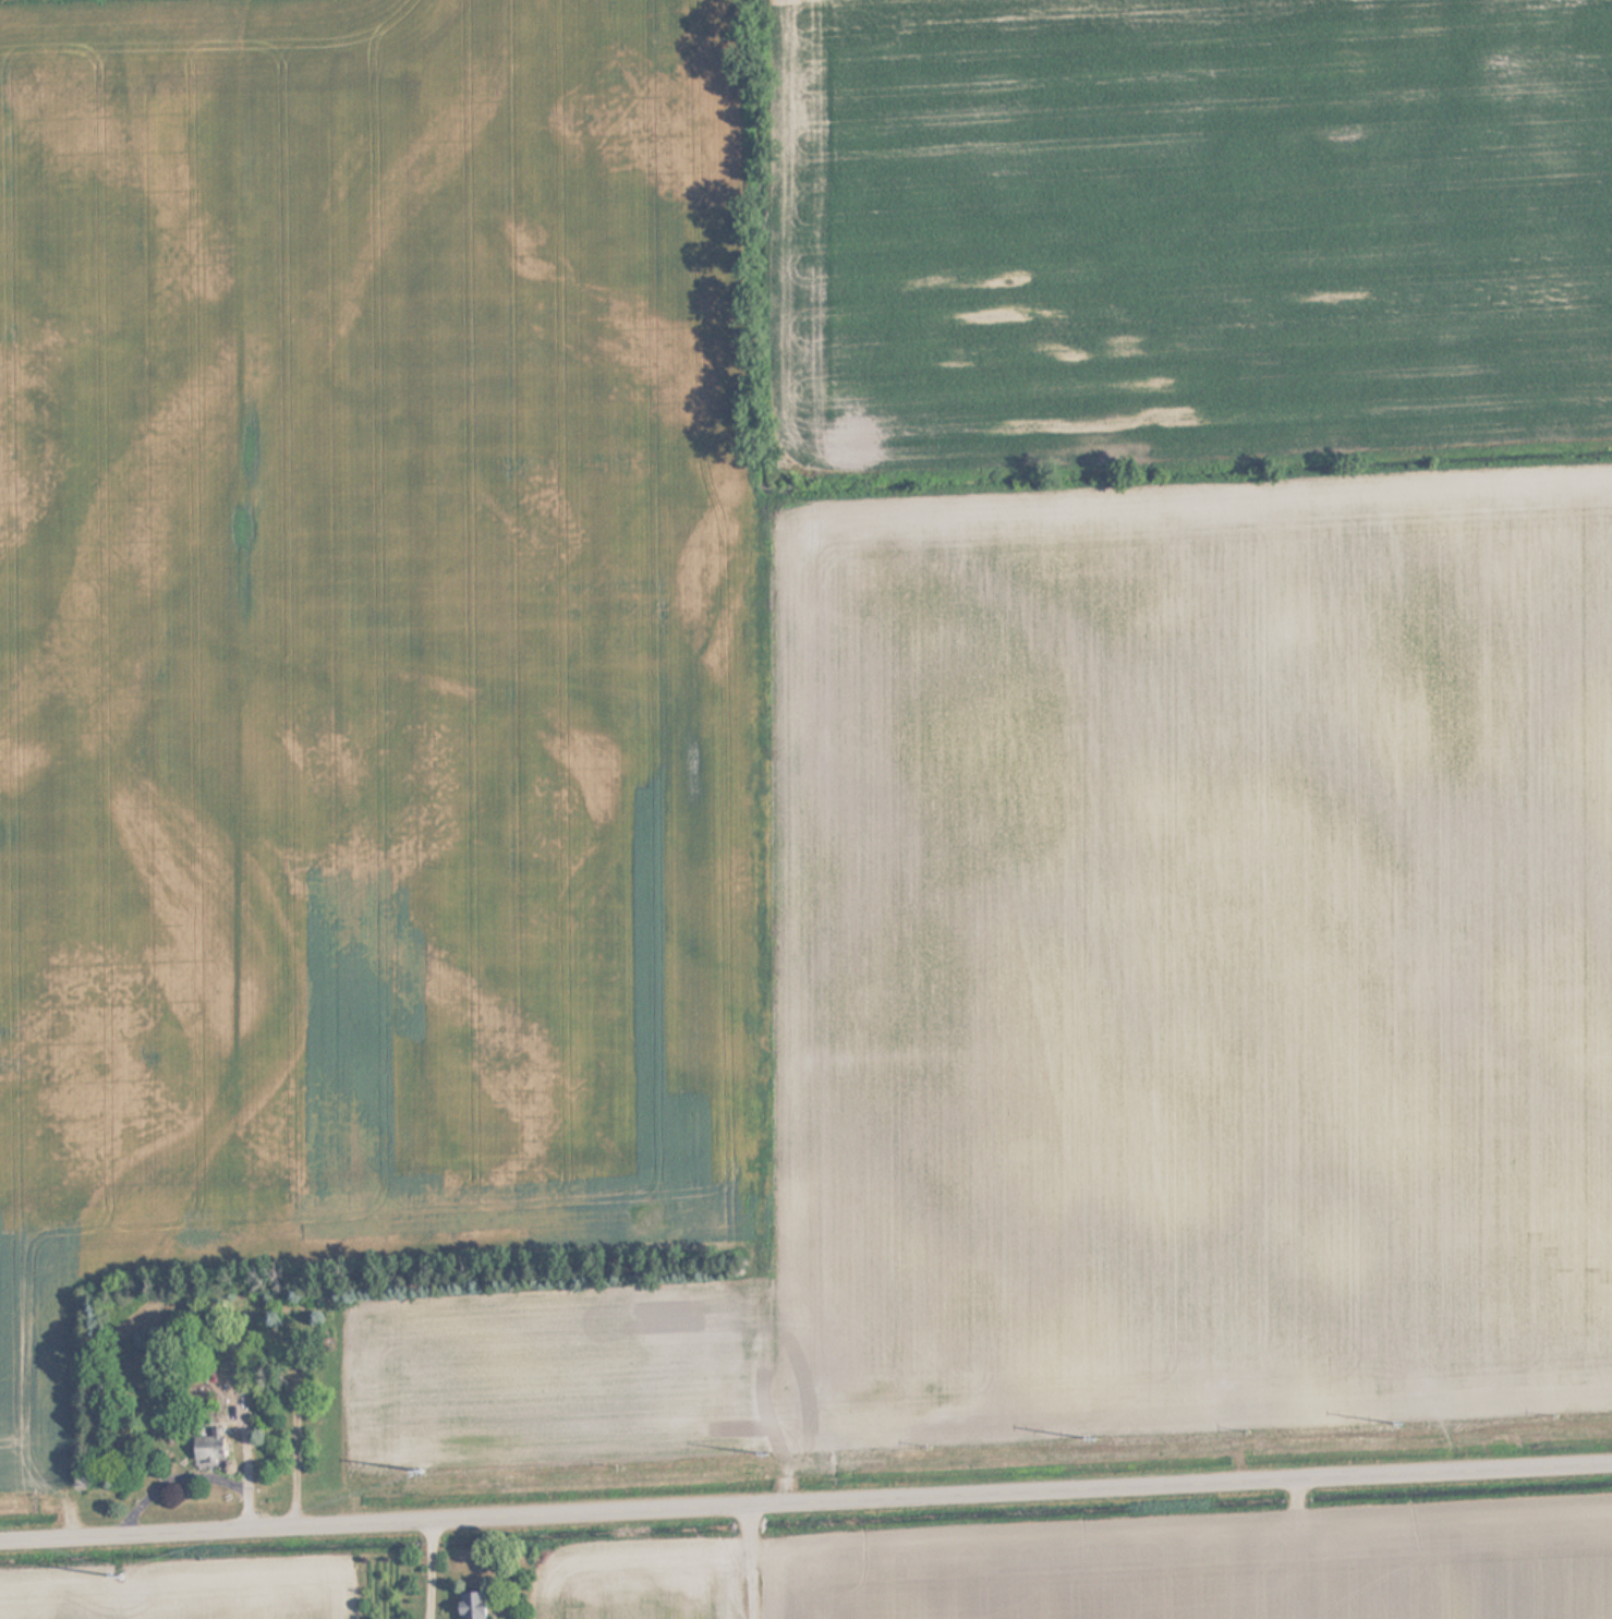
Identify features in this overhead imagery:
power tower: (1402, 1421)
power tower: (1092, 1437)
building: (206, 1445)
power tower: (767, 1453)
power tower: (419, 1467)
road: (805, 1498)
road: (767, 1559)
power tower: (124, 1573)
building: (468, 1605)

